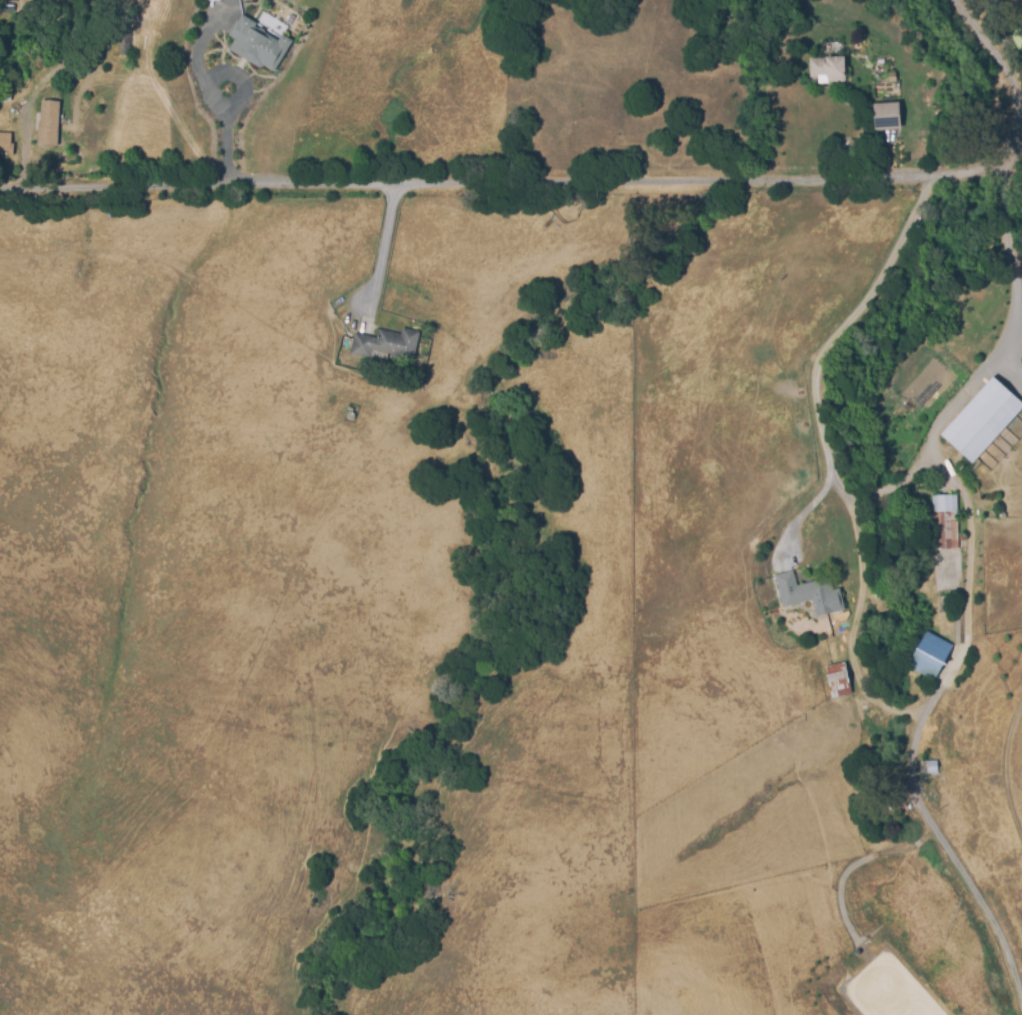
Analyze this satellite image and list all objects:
building: (14, 2)
building: (56, 3)
building: (290, 20)
building: (124, 45)
building: (256, 47)
road: (988, 52)
building: (880, 63)
building: (827, 70)
building: (891, 81)
road: (213, 98)
building: (5, 99)
building: (887, 117)
building: (49, 125)
road: (1016, 138)
building: (5, 143)
road: (23, 154)
road: (509, 174)
road: (382, 242)
road: (1015, 272)
building: (385, 344)
road: (813, 372)
building: (981, 422)
building: (944, 524)
building: (809, 594)
building: (948, 607)
building: (929, 655)
building: (835, 679)
building: (928, 767)

